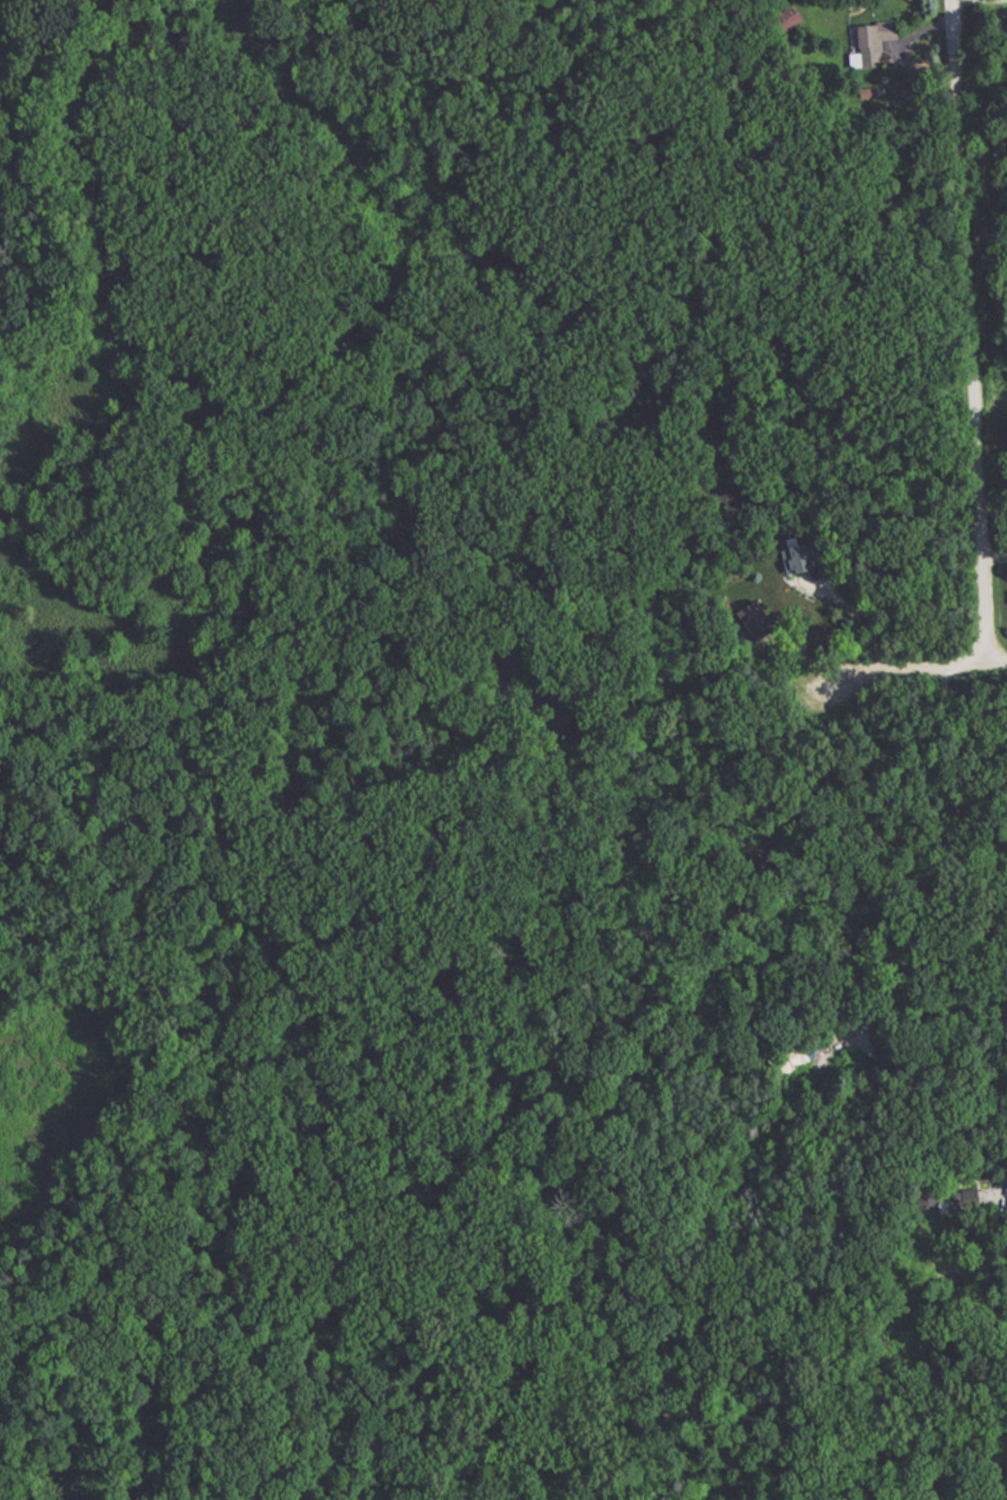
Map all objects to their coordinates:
road: (970, 332)
road: (862, 614)
road: (996, 664)
road: (905, 669)
road: (893, 941)

